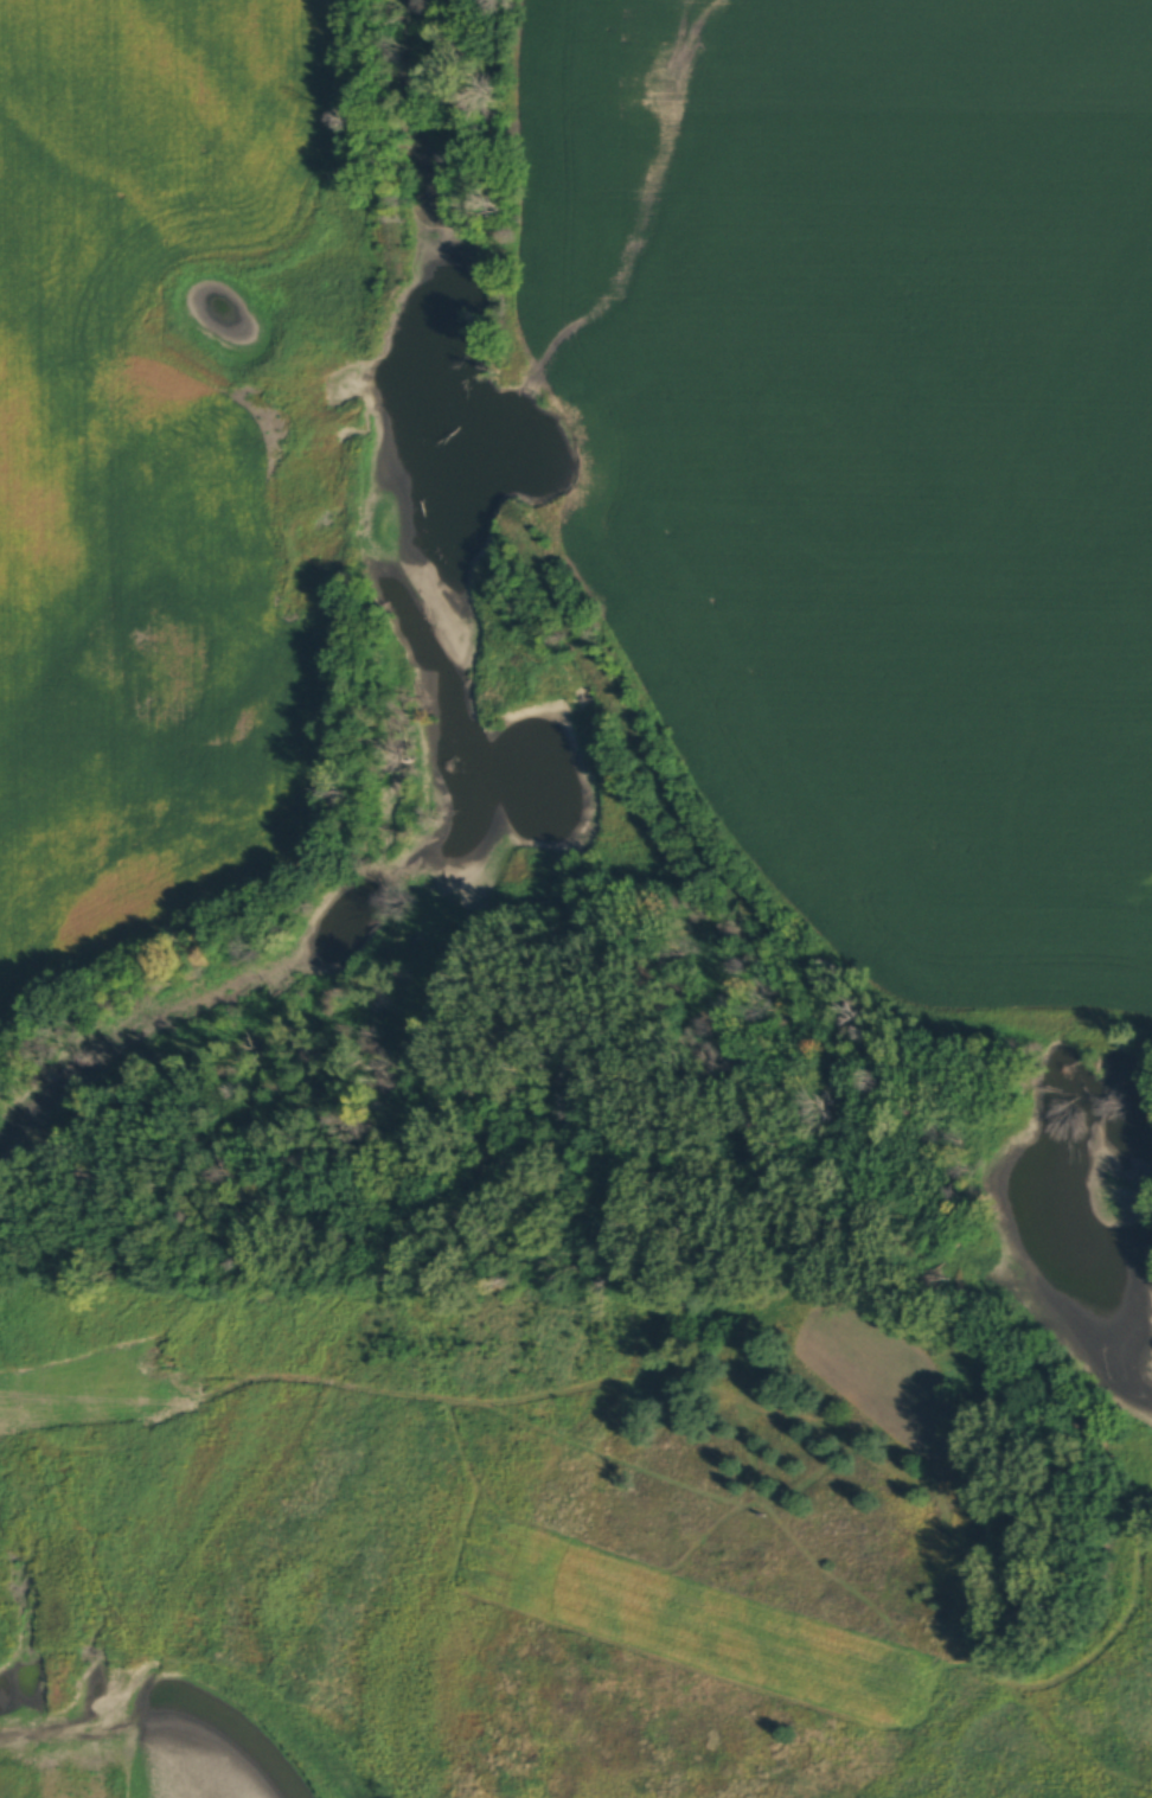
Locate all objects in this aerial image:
river: (120, 1752)

